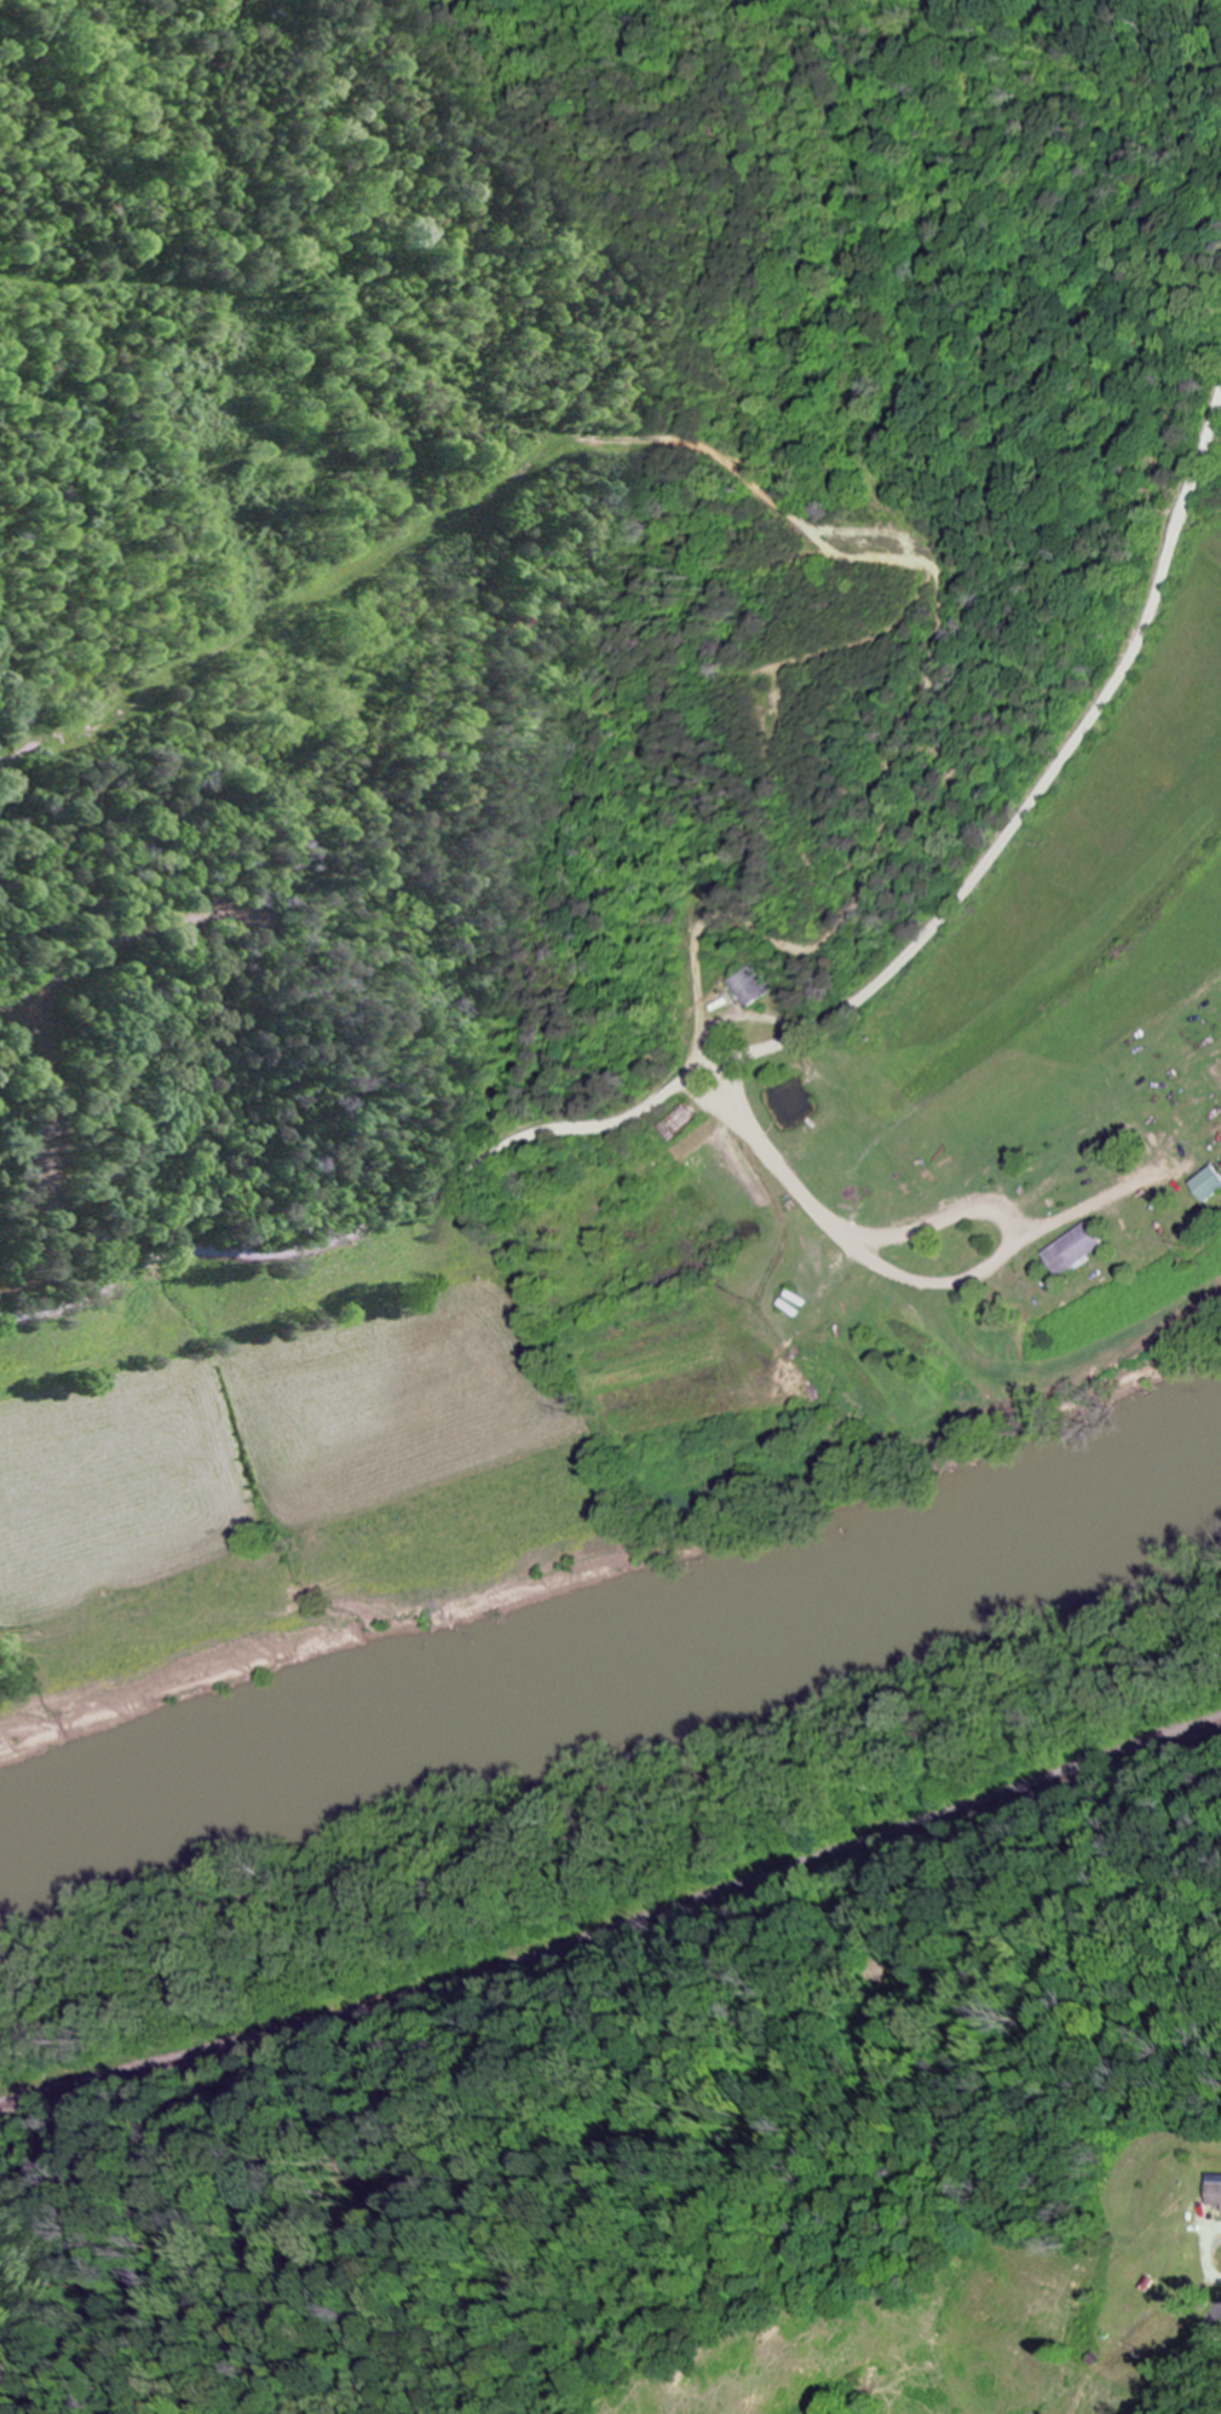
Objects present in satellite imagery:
road: (939, 669)
building: (749, 986)
road: (765, 1045)
road: (793, 1181)
building: (1213, 1185)
building: (1083, 1249)
river: (615, 1678)
railway: (615, 1929)
building: (1215, 2190)
road: (1185, 2353)

